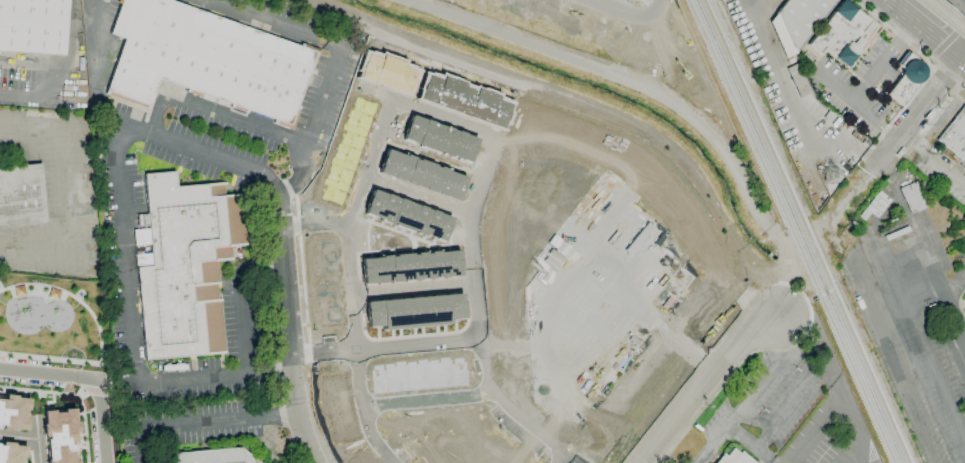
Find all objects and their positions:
building: (639, 0)
road: (960, 3)
road: (763, 10)
railway: (948, 13)
road: (608, 17)
railway: (940, 19)
building: (797, 22)
building: (32, 26)
road: (925, 29)
building: (842, 33)
road: (93, 38)
road: (947, 42)
road: (910, 44)
road: (68, 53)
road: (337, 59)
traffic signals: (962, 59)
building: (202, 60)
road: (963, 60)
road: (884, 61)
road: (779, 75)
building: (907, 79)
building: (796, 80)
road: (18, 95)
road: (848, 97)
road: (213, 111)
road: (915, 113)
road: (885, 131)
building: (955, 135)
road: (641, 154)
road: (934, 154)
road: (209, 156)
power tower: (831, 170)
road: (483, 181)
building: (20, 196)
building: (913, 198)
road: (554, 202)
building: (877, 204)
railway: (793, 231)
railway: (804, 231)
road: (125, 255)
building: (186, 264)
road: (955, 288)
road: (825, 292)
building: (594, 295)
road: (817, 297)
road: (809, 301)
road: (496, 309)
park: (54, 320)
road: (955, 323)
road: (290, 335)
road: (923, 342)
road: (351, 349)
road: (748, 358)
road: (26, 369)
road: (897, 371)
road: (231, 372)
road: (641, 377)
road: (709, 384)
road: (753, 391)
road: (801, 395)
road: (100, 401)
road: (424, 401)
building: (11, 411)
road: (819, 418)
road: (201, 419)
road: (856, 431)
road: (18, 433)
building: (59, 435)
road: (36, 438)
building: (11, 453)
building: (210, 457)
building: (734, 457)
road: (764, 457)

